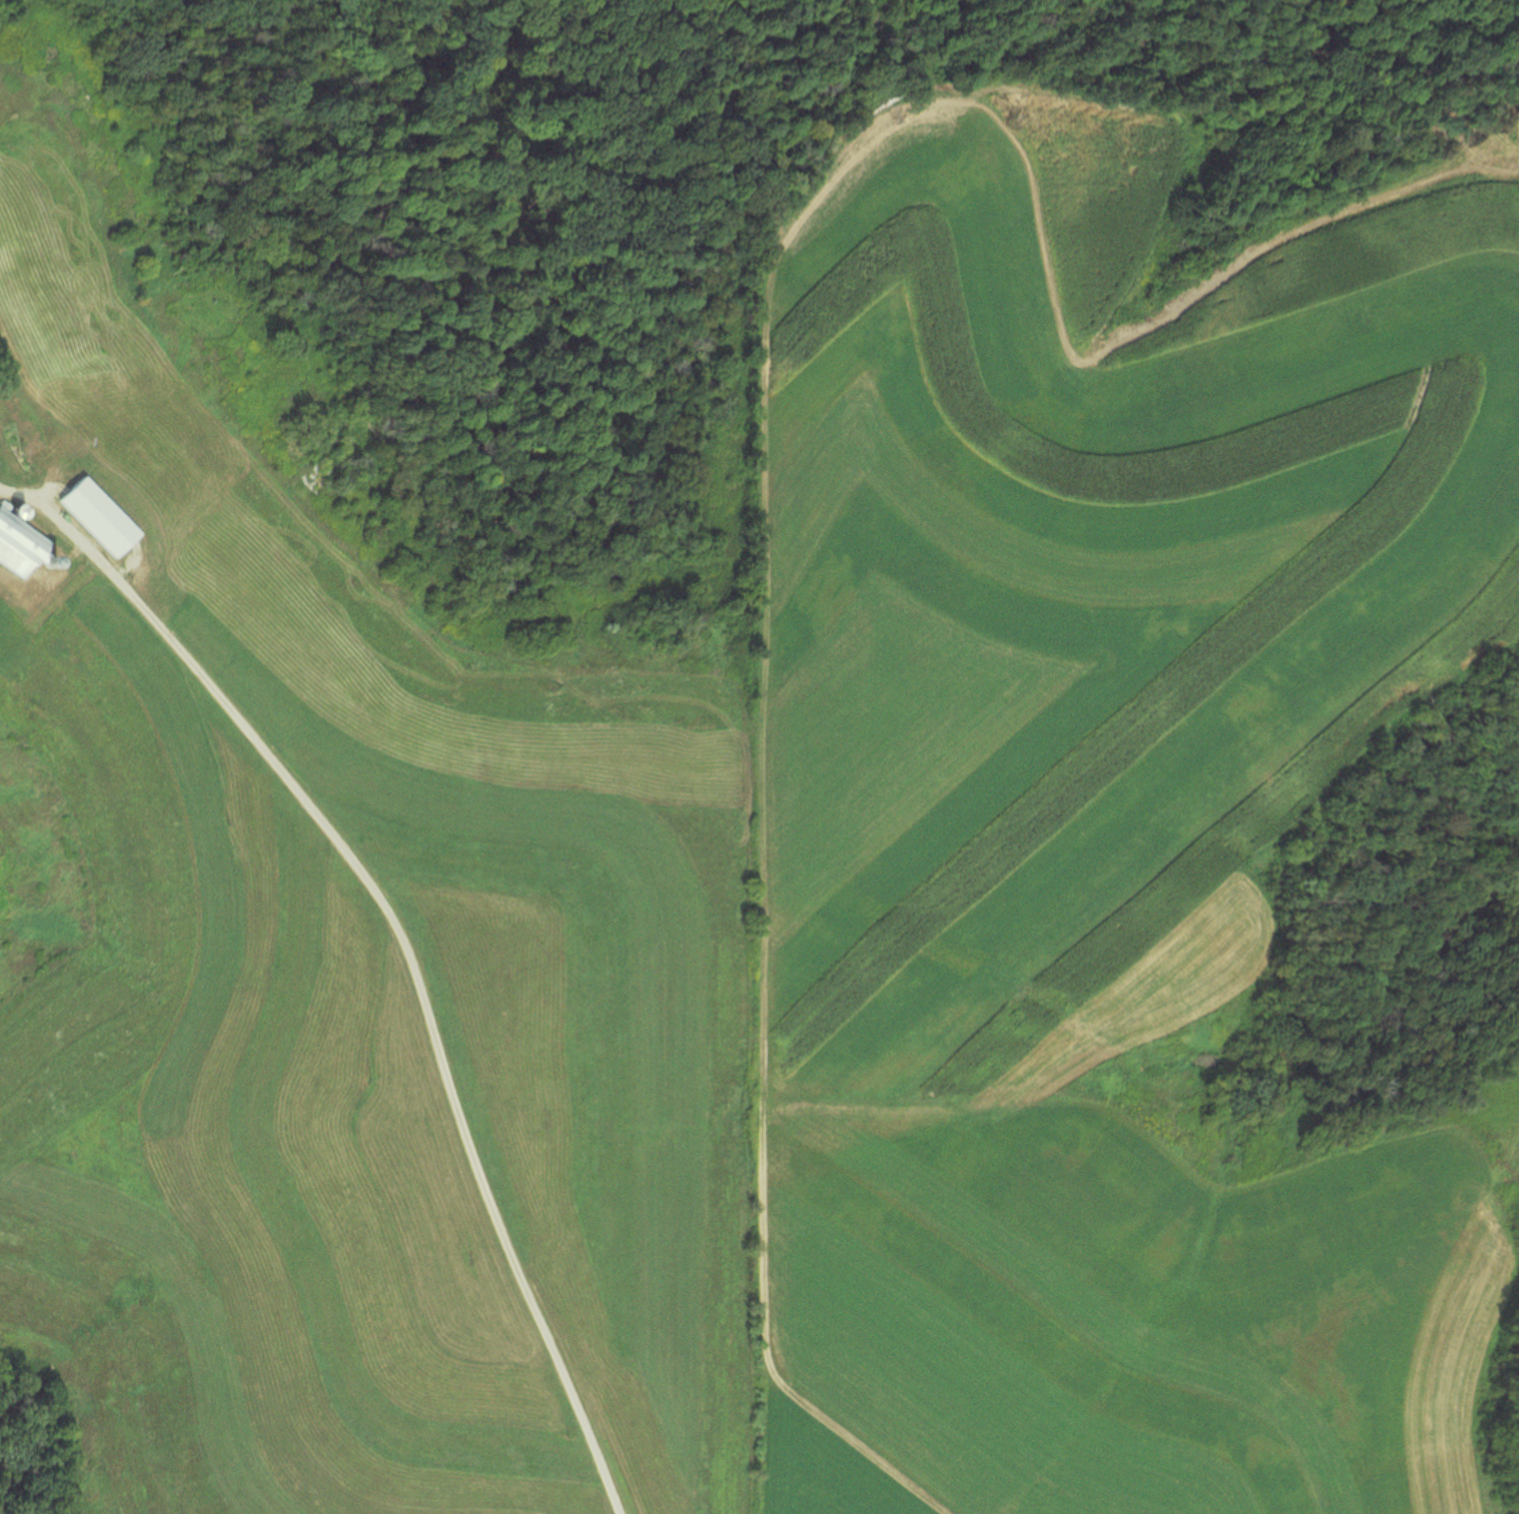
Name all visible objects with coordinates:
building: (43, 457)
building: (94, 515)
building: (16, 544)
road: (403, 951)

